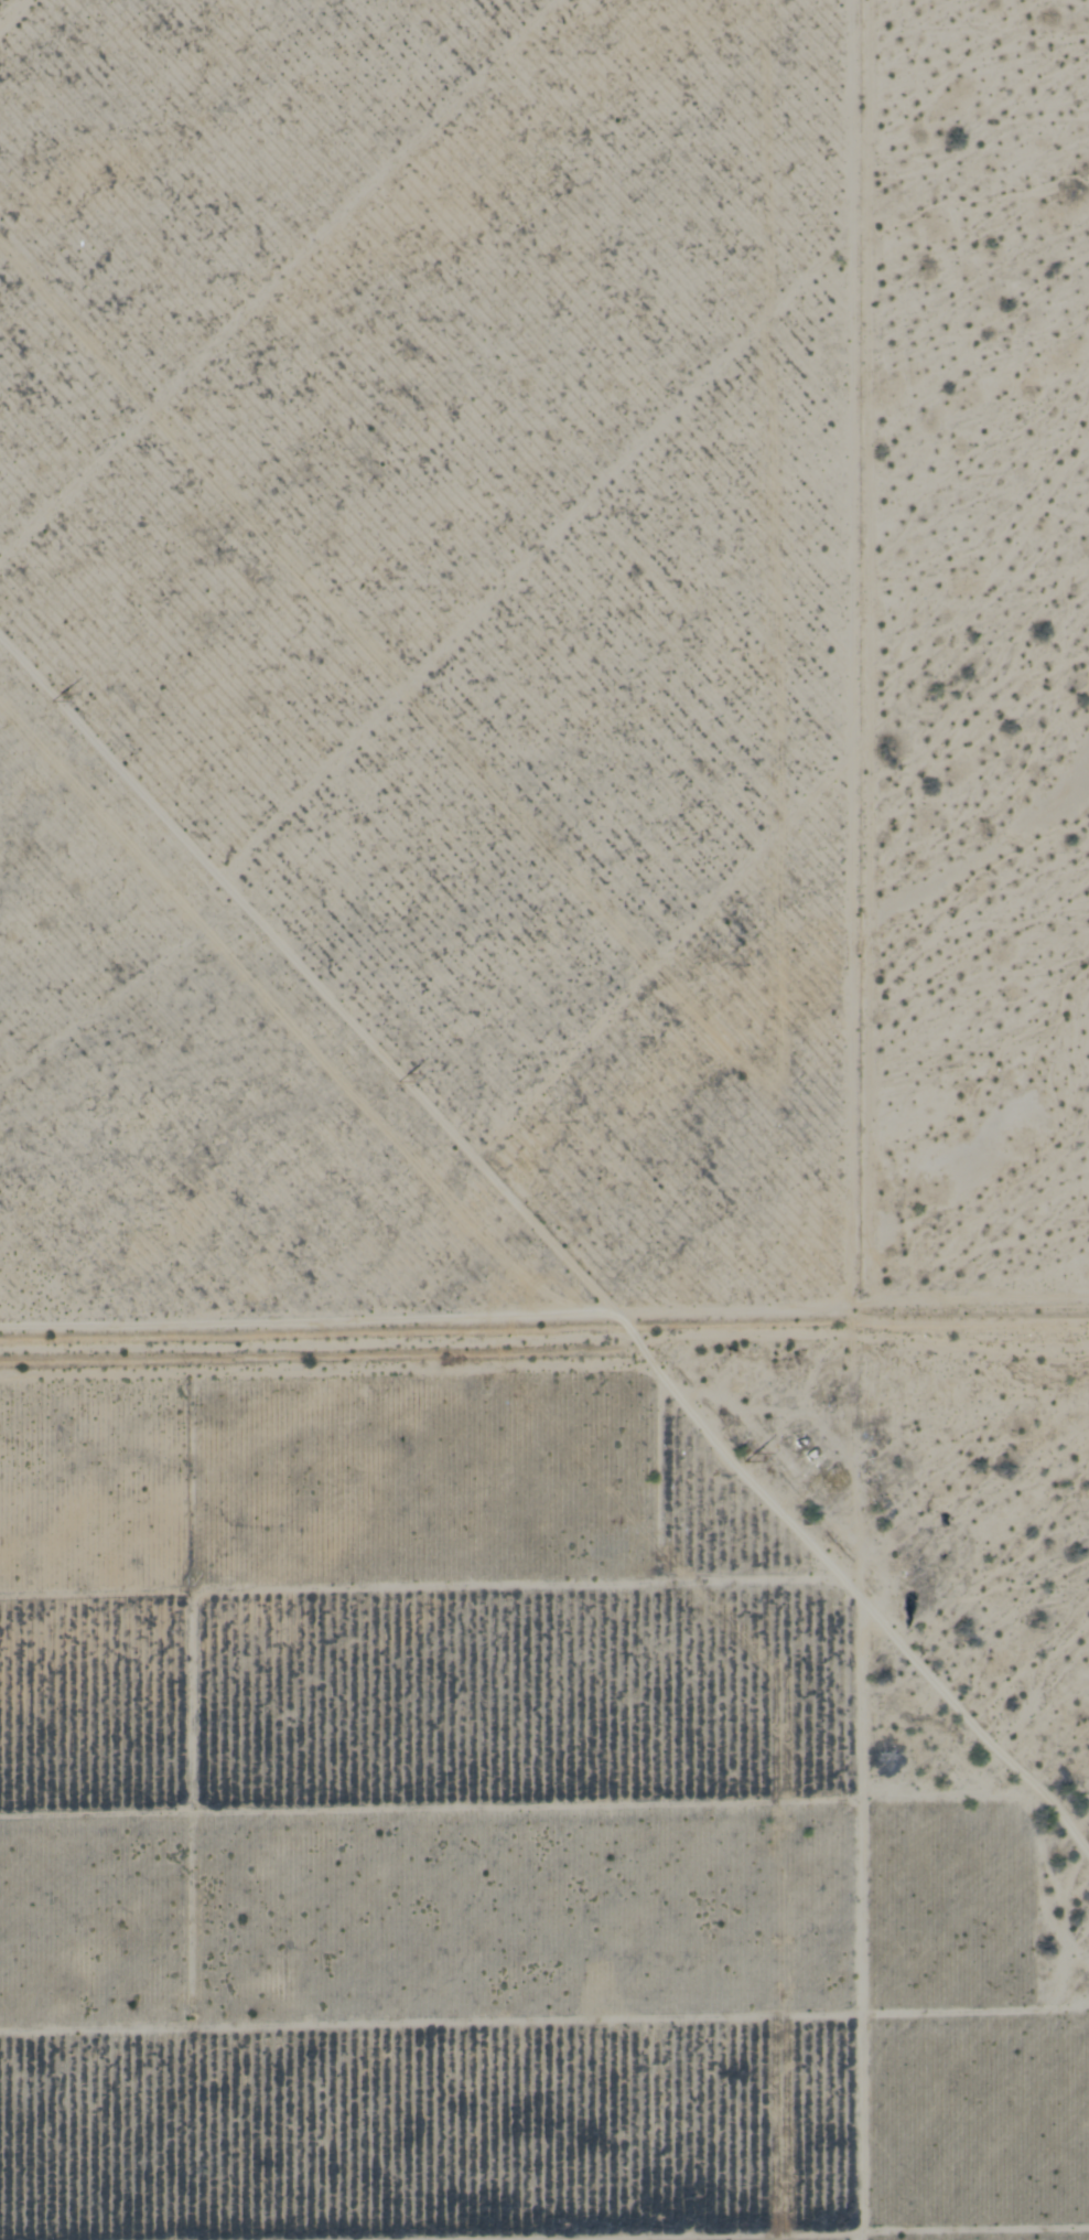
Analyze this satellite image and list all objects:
power tower: (64, 695)
power tower: (408, 1072)
power tower: (761, 1461)

